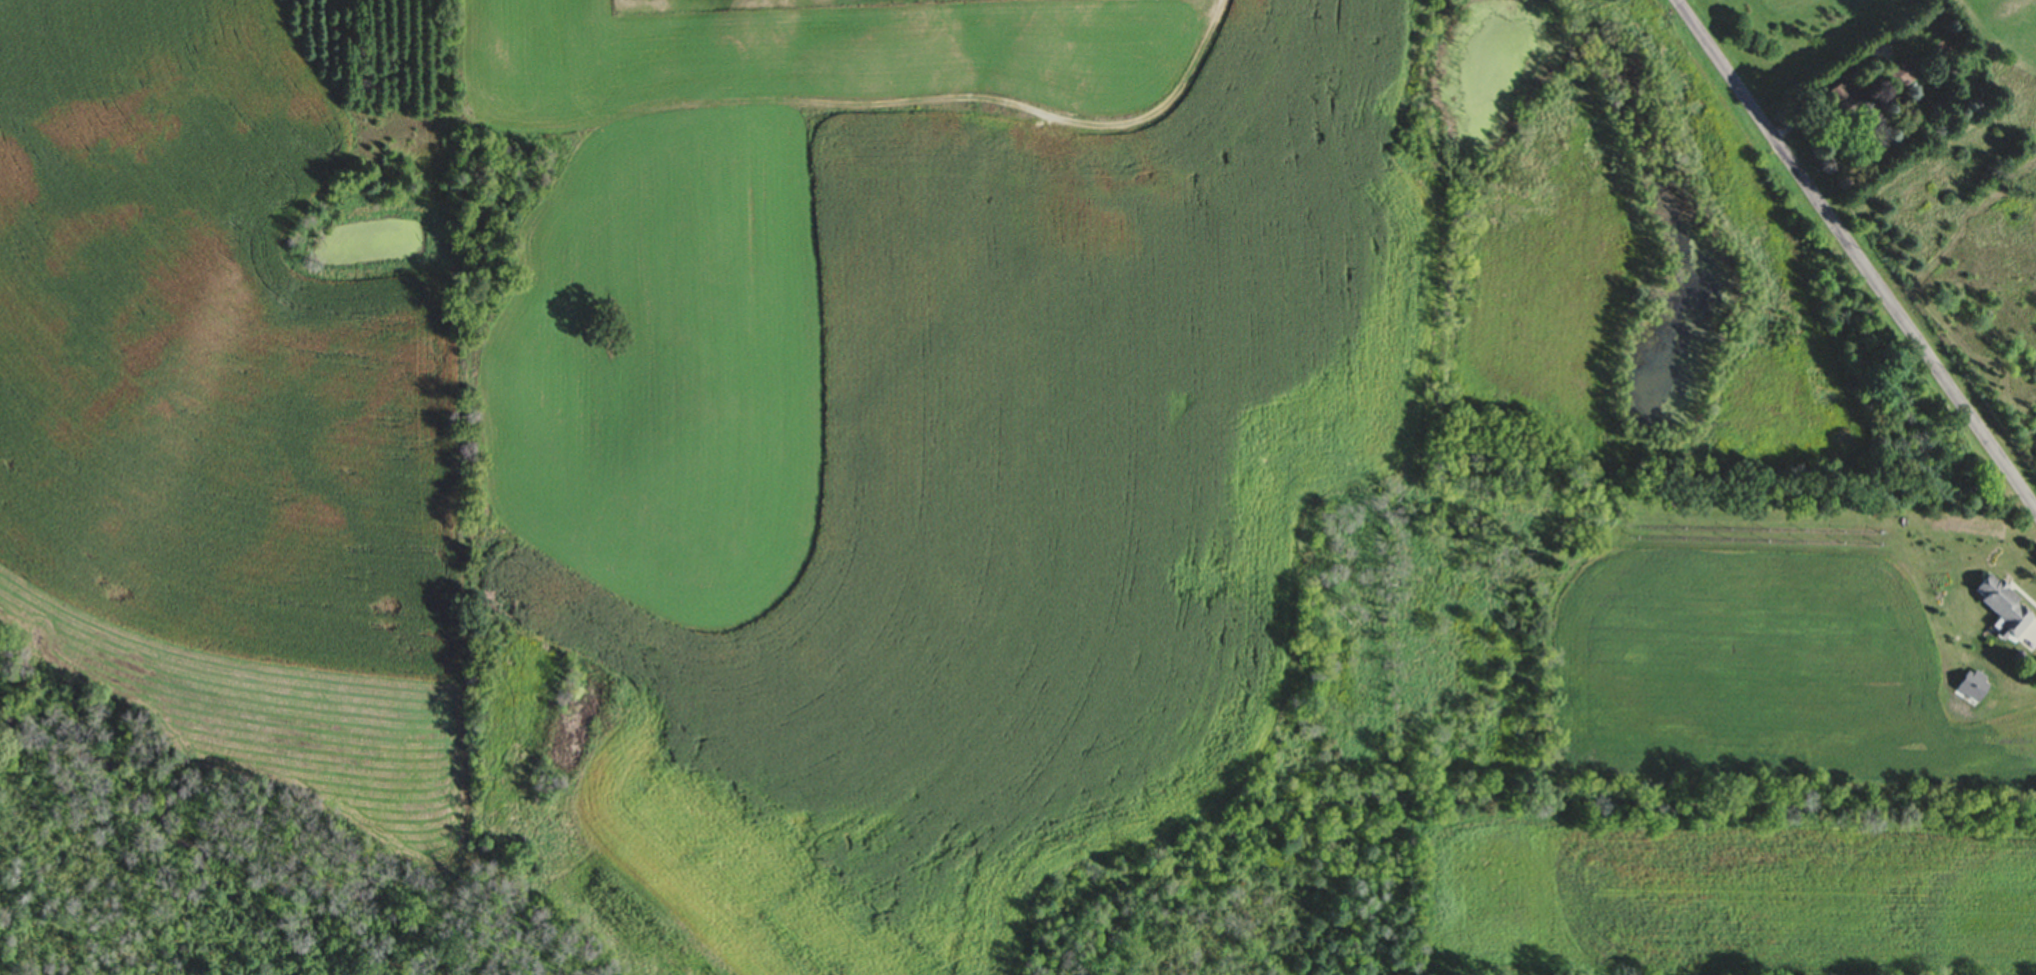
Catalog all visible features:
building: (1900, 75)
building: (1838, 101)
road: (1855, 254)
building: (2000, 602)

